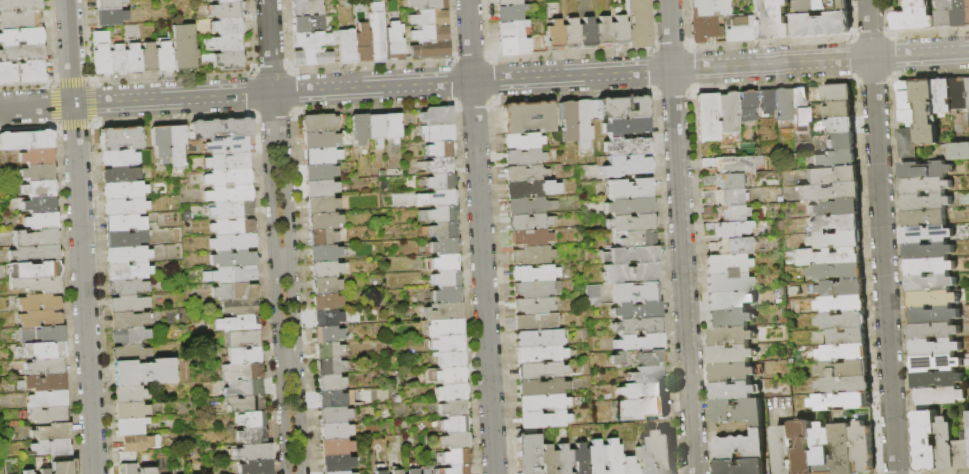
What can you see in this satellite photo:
building: (295, 0)
building: (697, 0)
building: (226, 1)
building: (508, 2)
building: (968, 2)
building: (108, 4)
building: (427, 4)
building: (19, 5)
building: (822, 6)
building: (709, 7)
building: (306, 8)
building: (226, 10)
building: (510, 12)
building: (960, 13)
building: (944, 14)
building: (110, 17)
building: (913, 17)
building: (429, 18)
building: (19, 20)
building: (761, 20)
building: (779, 20)
building: (637, 23)
building: (307, 24)
building: (820, 25)
building: (227, 26)
building: (704, 28)
building: (739, 28)
building: (510, 29)
building: (619, 30)
building: (587, 31)
building: (603, 31)
building: (377, 32)
building: (571, 32)
building: (554, 33)
building: (429, 34)
building: (20, 36)
building: (310, 39)
building: (394, 41)
road: (469, 41)
building: (226, 42)
building: (362, 43)
building: (514, 44)
road: (269, 46)
building: (346, 46)
building: (183, 47)
building: (431, 50)
building: (22, 52)
road: (70, 52)
building: (100, 53)
building: (302, 56)
building: (163, 57)
building: (148, 58)
building: (321, 58)
building: (117, 59)
building: (132, 59)
building: (225, 60)
building: (22, 72)
road: (521, 79)
building: (967, 91)
building: (837, 93)
building: (904, 95)
building: (958, 95)
building: (941, 97)
building: (798, 98)
building: (767, 101)
building: (782, 104)
road: (36, 106)
building: (746, 106)
road: (273, 107)
building: (622, 107)
building: (839, 110)
building: (727, 112)
building: (925, 113)
building: (436, 116)
building: (528, 116)
building: (707, 118)
building: (800, 118)
building: (907, 118)
building: (568, 121)
building: (318, 123)
building: (585, 124)
building: (625, 125)
building: (390, 126)
building: (840, 126)
building: (220, 127)
building: (374, 127)
building: (358, 129)
building: (422, 129)
building: (438, 133)
building: (167, 136)
building: (120, 138)
building: (40, 139)
building: (13, 140)
building: (321, 140)
building: (395, 140)
building: (523, 141)
building: (841, 142)
building: (907, 143)
building: (227, 145)
building: (626, 146)
building: (439, 149)
building: (959, 151)
building: (161, 155)
building: (176, 155)
building: (37, 156)
building: (322, 156)
building: (120, 157)
building: (524, 158)
building: (834, 158)
building: (227, 161)
building: (420, 164)
building: (439, 164)
building: (731, 164)
building: (626, 166)
building: (924, 170)
building: (37, 172)
building: (319, 172)
building: (120, 174)
building: (525, 174)
building: (831, 175)
building: (228, 178)
building: (707, 180)
building: (436, 181)
building: (728, 181)
building: (924, 186)
building: (38, 188)
building: (320, 188)
building: (531, 189)
building: (629, 189)
building: (124, 190)
building: (828, 192)
building: (229, 194)
building: (711, 194)
building: (731, 197)
building: (435, 198)
building: (925, 203)
building: (39, 204)
building: (554, 204)
building: (321, 205)
building: (125, 206)
building: (527, 206)
building: (629, 206)
building: (834, 208)
building: (230, 210)
building: (732, 213)
building: (438, 214)
building: (924, 218)
building: (41, 221)
building: (324, 221)
building: (529, 222)
building: (630, 222)
building: (124, 223)
building: (835, 223)
building: (232, 226)
building: (730, 229)
building: (439, 230)
building: (927, 234)
road: (681, 236)
road: (882, 236)
building: (322, 237)
building: (35, 238)
building: (531, 238)
building: (638, 238)
building: (125, 239)
building: (836, 240)
building: (232, 242)
building: (442, 246)
building: (730, 246)
building: (927, 251)
building: (34, 253)
building: (325, 253)
building: (598, 253)
building: (128, 254)
building: (633, 254)
building: (530, 255)
building: (604, 256)
building: (830, 257)
building: (233, 259)
building: (444, 262)
road: (282, 263)
building: (427, 264)
building: (725, 264)
building: (928, 267)
building: (327, 269)
building: (33, 270)
building: (128, 271)
building: (629, 272)
building: (836, 272)
building: (534, 273)
building: (233, 276)
road: (482, 278)
building: (445, 279)
building: (726, 282)
building: (929, 284)
building: (37, 285)
building: (325, 285)
building: (127, 287)
building: (536, 288)
building: (839, 288)
road: (83, 289)
building: (235, 292)
building: (635, 292)
building: (598, 294)
building: (446, 295)
road: (293, 296)
road: (275, 297)
building: (932, 299)
building: (729, 300)
building: (326, 301)
building: (39, 303)
building: (128, 304)
building: (841, 304)
building: (240, 306)
building: (535, 306)
building: (636, 310)
building: (443, 312)
building: (932, 316)
building: (327, 318)
building: (729, 318)
building: (40, 319)
building: (128, 320)
building: (843, 321)
building: (536, 322)
building: (237, 323)
building: (637, 325)
building: (444, 328)
building: (933, 331)
building: (327, 334)
building: (42, 335)
building: (129, 335)
building: (729, 336)
building: (847, 336)
building: (241, 338)
building: (539, 338)
building: (639, 342)
building: (446, 343)
building: (934, 348)
building: (41, 350)
building: (328, 350)
building: (844, 352)
building: (130, 353)
building: (540, 354)
building: (731, 354)
building: (244, 355)
building: (450, 358)
building: (635, 358)
road: (288, 359)
building: (935, 364)
building: (46, 366)
building: (329, 366)
building: (540, 370)
building: (845, 370)
building: (242, 371)
building: (144, 372)
building: (731, 372)
building: (645, 374)
building: (448, 376)
building: (626, 377)
building: (936, 380)
building: (330, 382)
building: (43, 383)
building: (845, 385)
building: (541, 386)
building: (243, 388)
building: (642, 390)
building: (733, 390)
building: (450, 392)
building: (129, 394)
building: (938, 396)
building: (47, 399)
building: (336, 399)
building: (841, 401)
building: (541, 402)
building: (244, 403)
building: (452, 408)
building: (641, 408)
building: (130, 410)
building: (738, 412)
building: (45, 414)
building: (334, 414)
building: (968, 418)
building: (249, 419)
building: (542, 419)
building: (453, 424)
building: (129, 426)
building: (335, 430)
building: (51, 431)
building: (251, 435)
building: (454, 440)
building: (925, 441)
building: (138, 442)
building: (946, 445)
building: (51, 447)
building: (335, 447)
building: (740, 447)
building: (804, 447)
building: (844, 448)
building: (862, 448)
building: (823, 449)
building: (784, 450)
building: (253, 452)
building: (663, 452)
building: (962, 453)
building: (526, 454)
building: (126, 456)
building: (455, 456)
building: (611, 456)
building: (594, 457)
building: (643, 457)
building: (145, 458)
building: (546, 459)
building: (562, 459)
building: (579, 459)
building: (337, 463)
building: (62, 464)
building: (627, 465)
building: (255, 467)
building: (740, 467)
building: (126, 469)
building: (456, 469)
building: (146, 470)
building: (43, 471)
building: (412, 471)
building: (26, 472)
building: (336, 472)
building: (379, 472)
building: (396, 472)
building: (352, 473)

